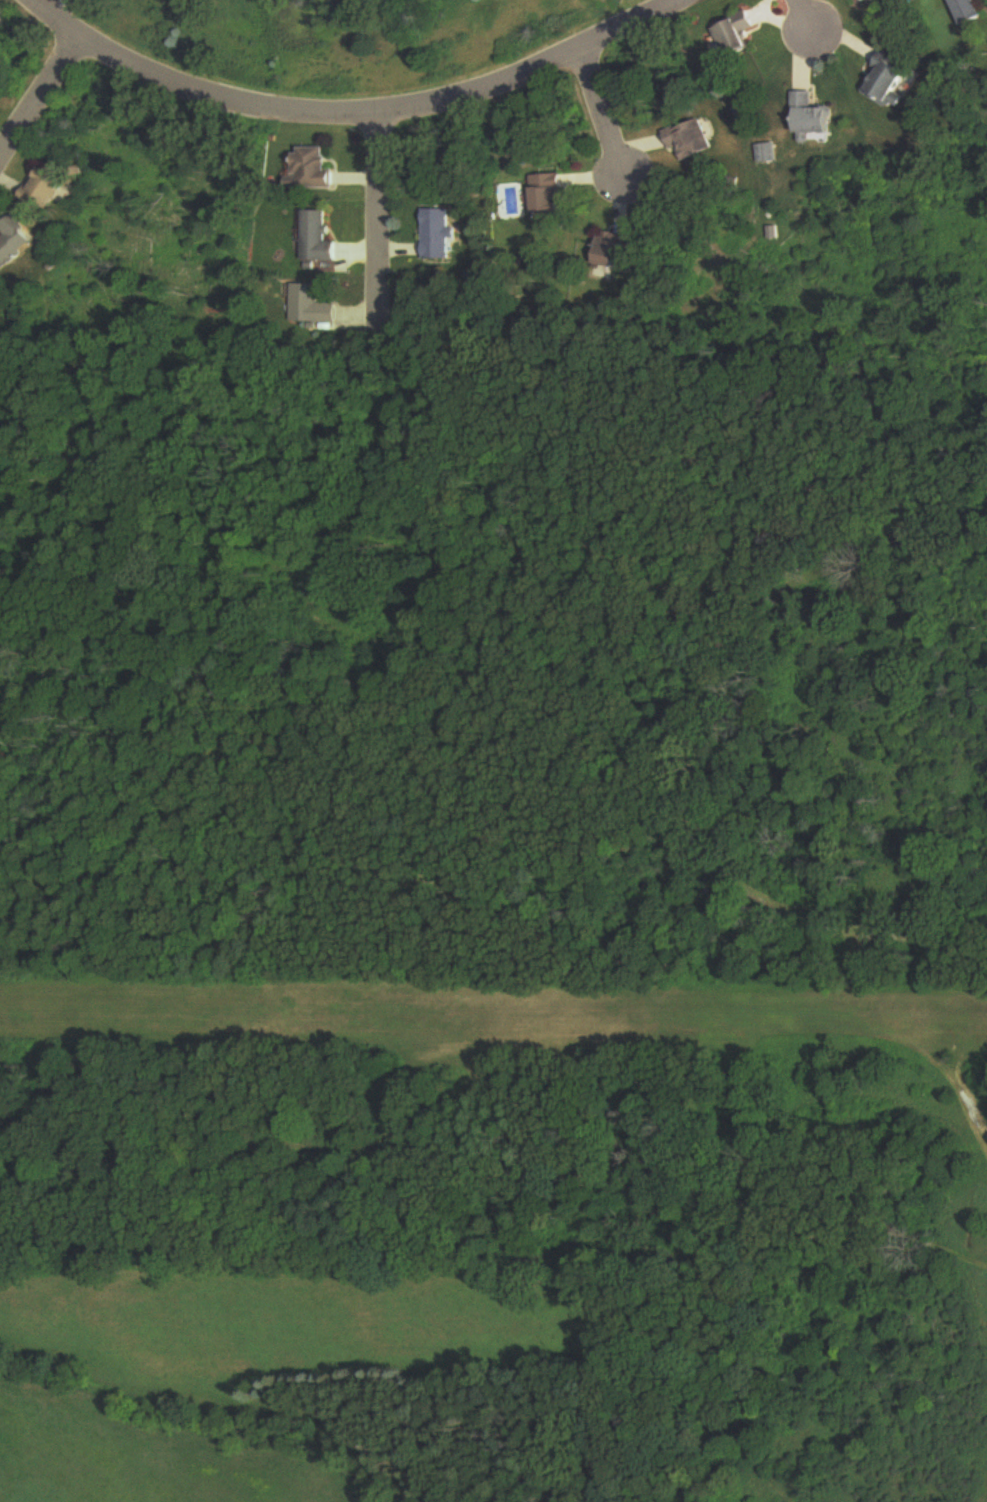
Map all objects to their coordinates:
building: (971, 11)
road: (803, 15)
building: (737, 35)
building: (888, 79)
road: (38, 95)
road: (600, 111)
road: (362, 117)
building: (813, 119)
building: (692, 141)
building: (767, 153)
building: (315, 169)
building: (47, 188)
building: (549, 194)
road: (379, 233)
building: (439, 235)
building: (320, 238)
building: (15, 241)
building: (610, 249)
building: (313, 306)

